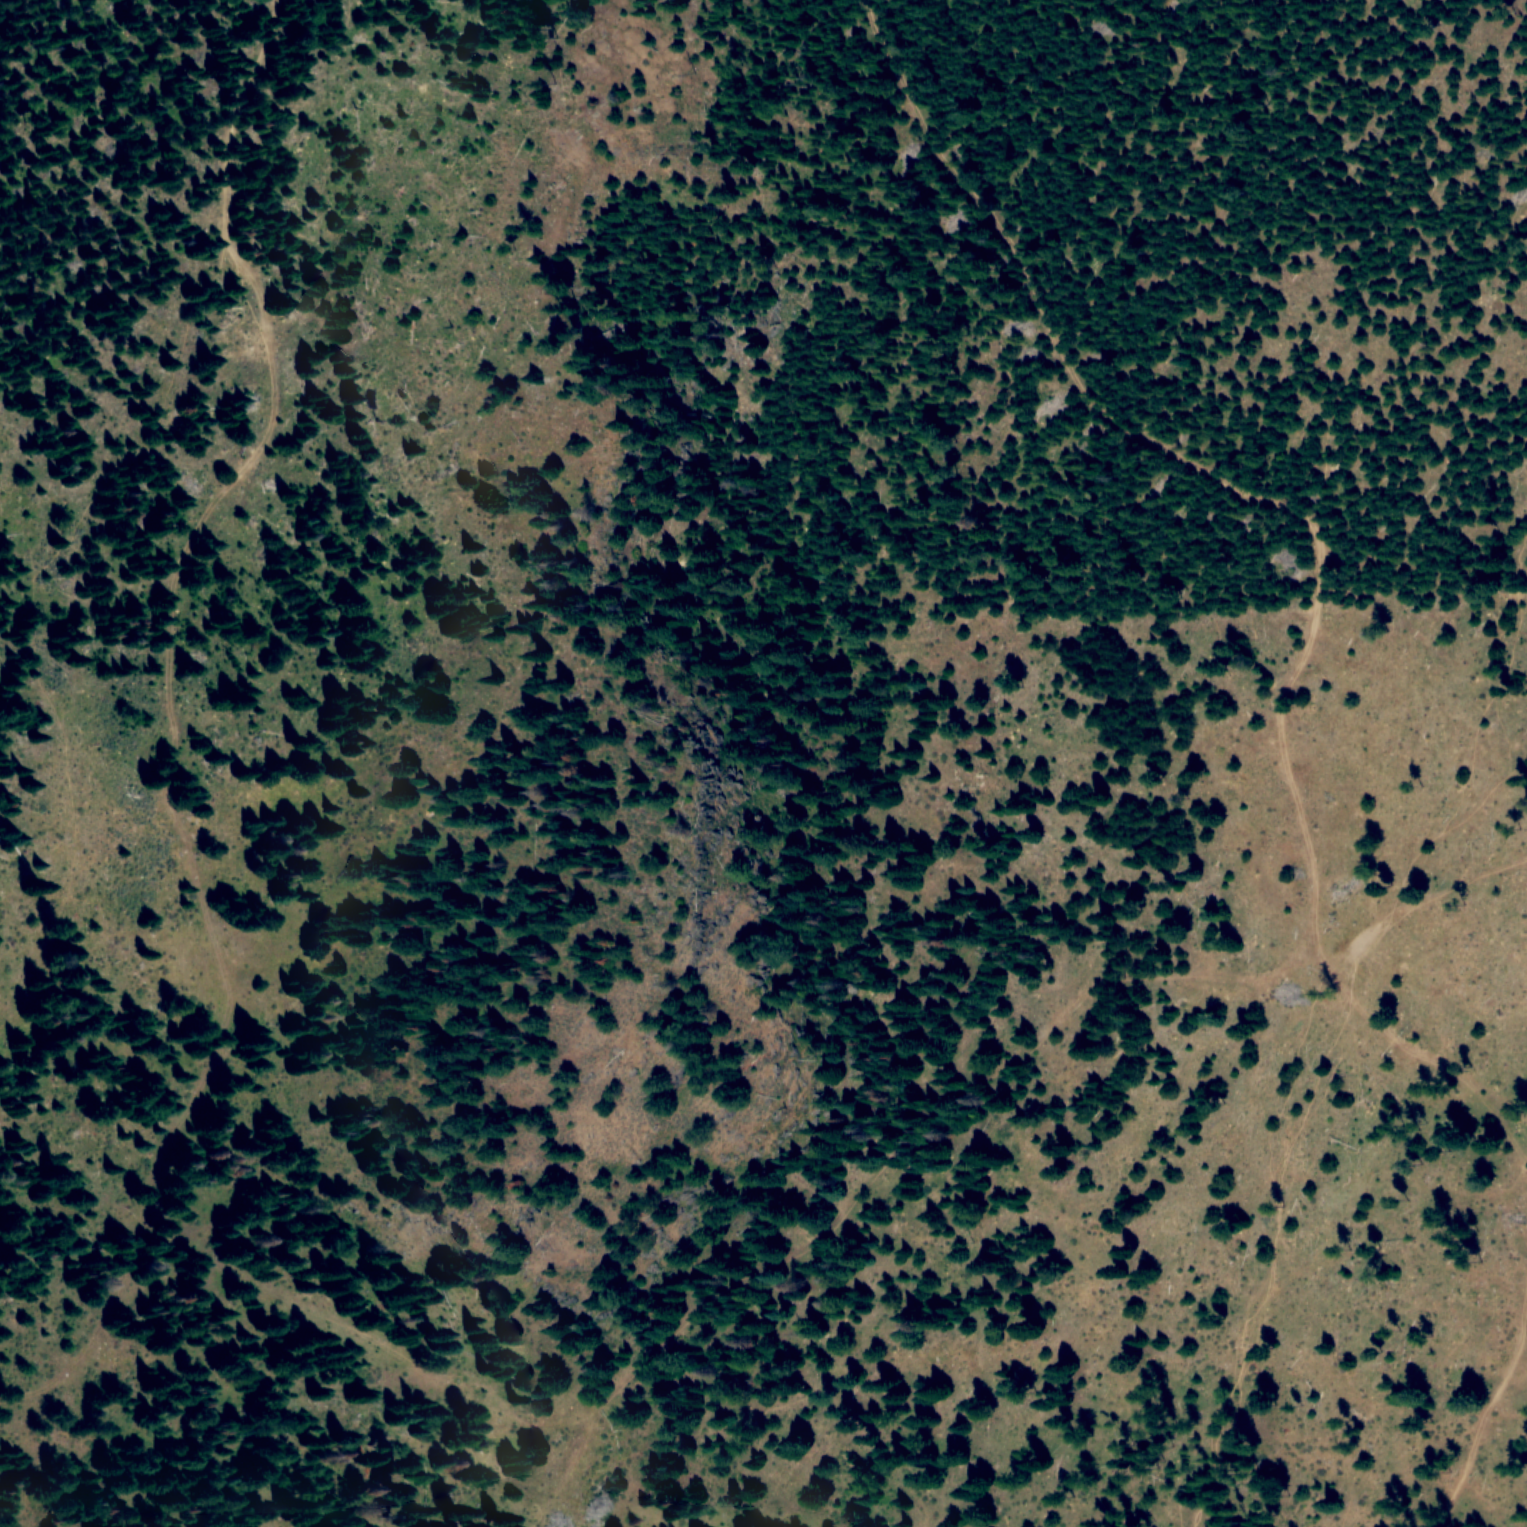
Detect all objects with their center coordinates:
road: (1296, 545)
road: (200, 723)
road: (1466, 1424)

